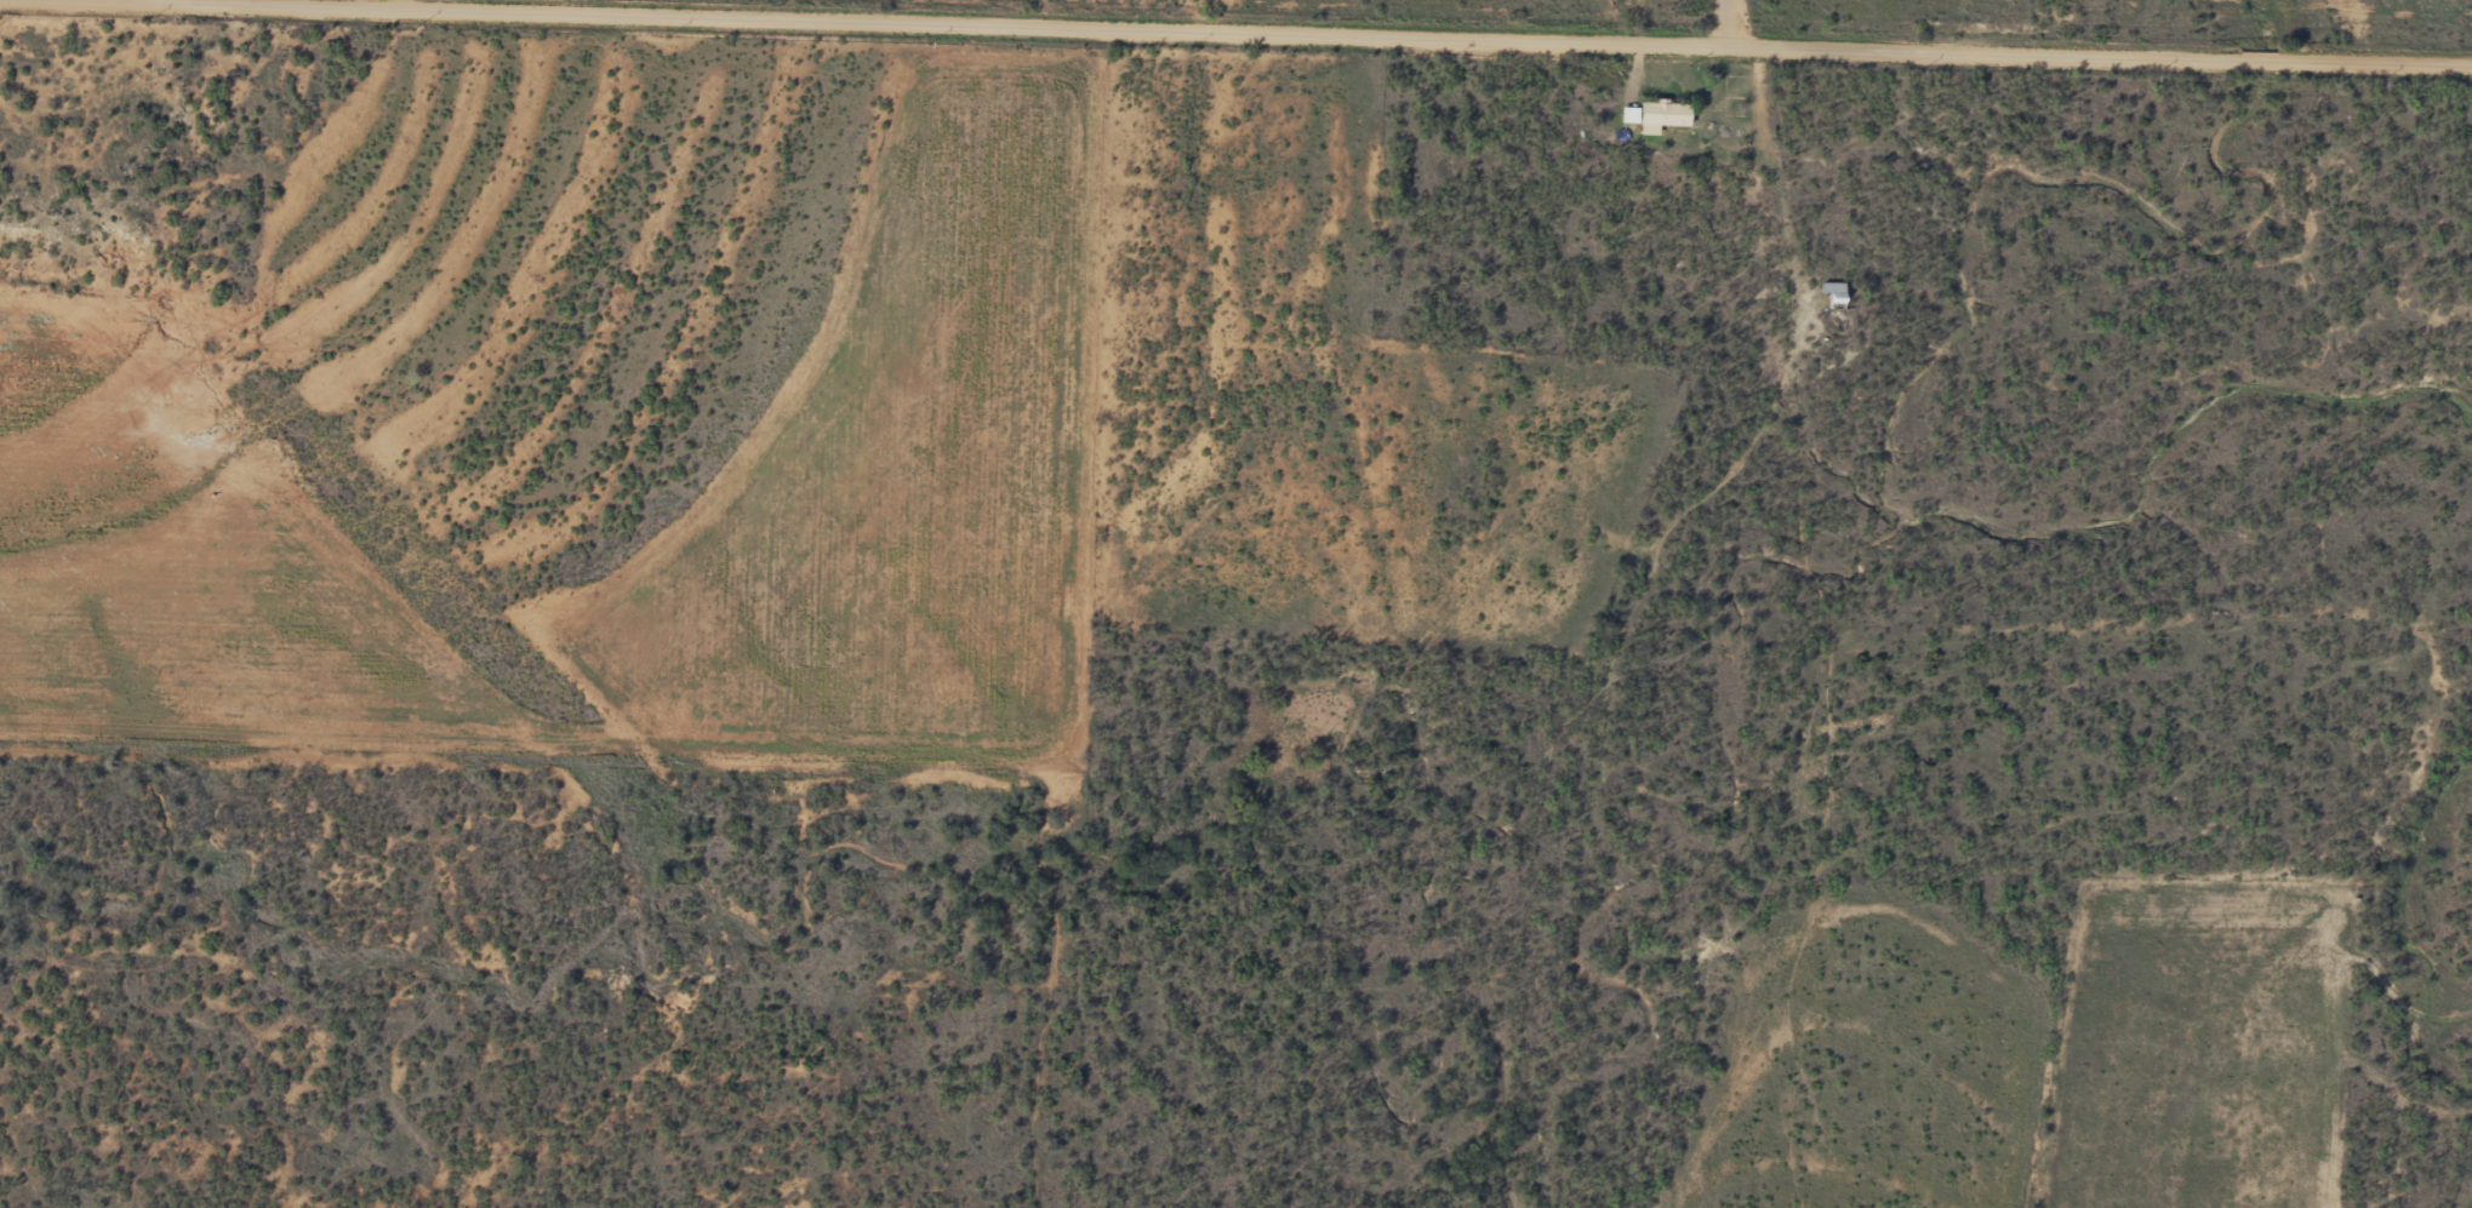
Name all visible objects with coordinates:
road: (1393, 30)
building: (1663, 115)
building: (1833, 294)
road: (1663, 492)

